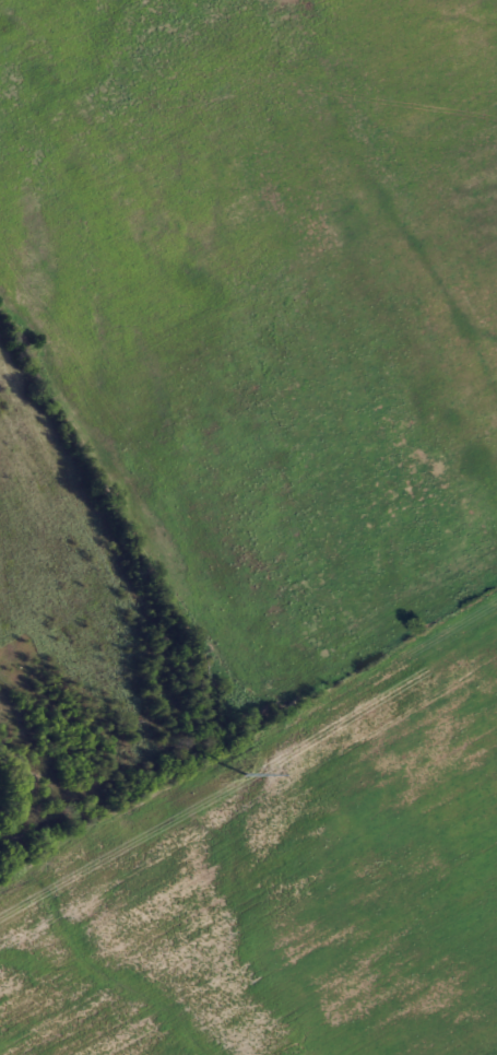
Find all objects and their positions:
power tower: (245, 775)

